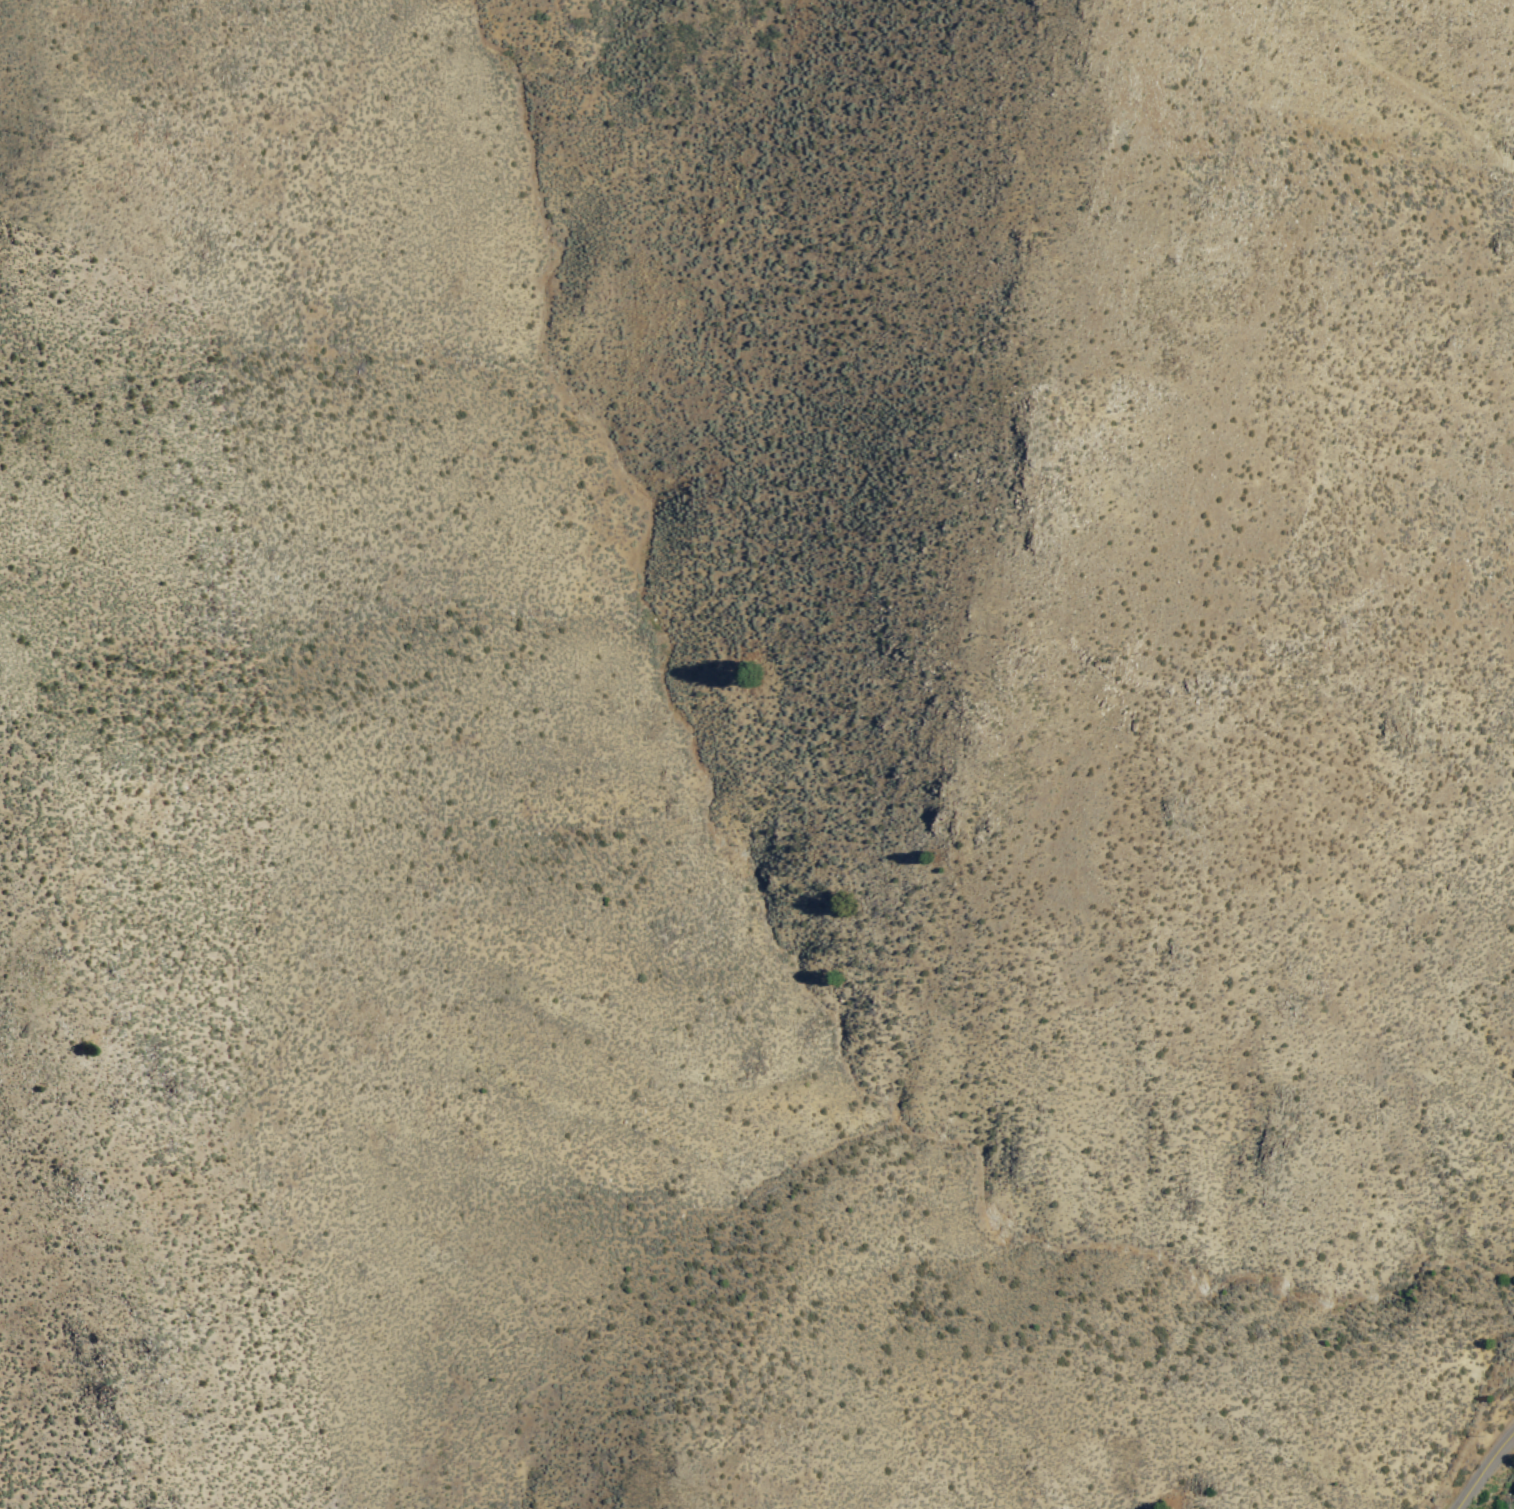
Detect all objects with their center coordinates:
road: (1480, 1462)

